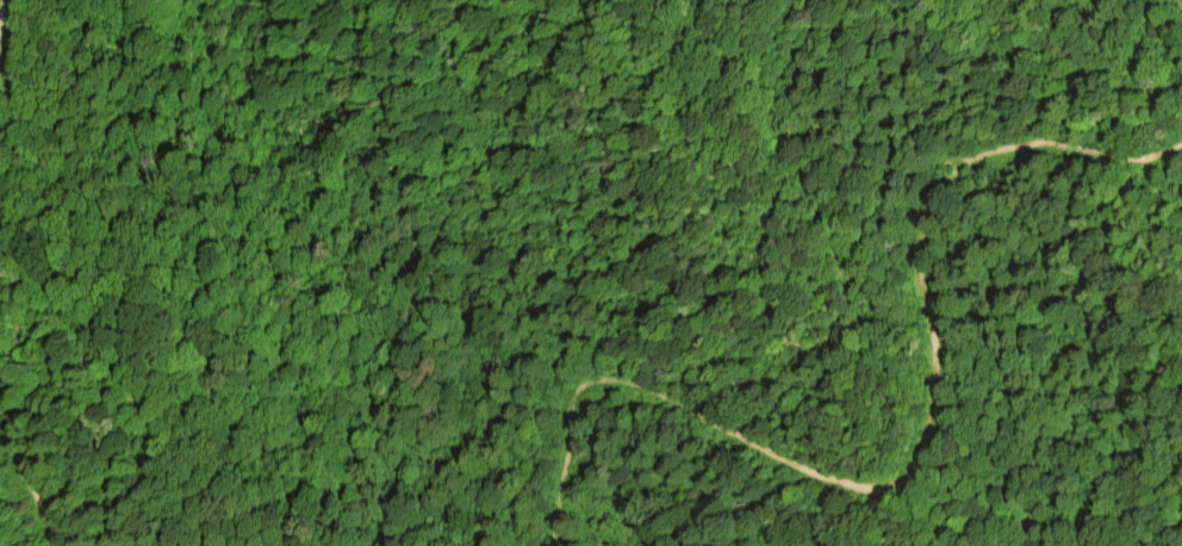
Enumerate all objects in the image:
road: (2, 13)

